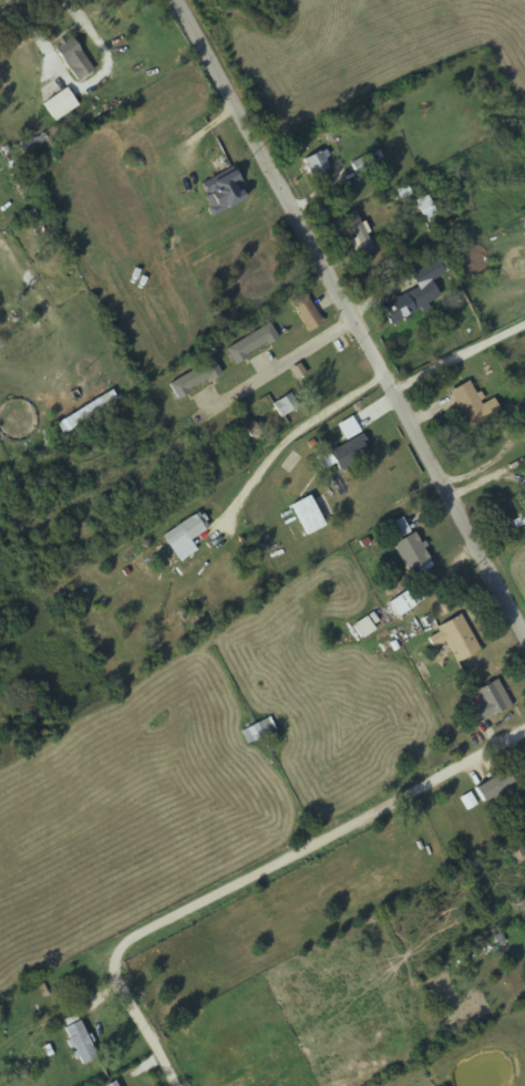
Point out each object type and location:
road: (17, 10)
building: (55, 105)
building: (316, 164)
building: (223, 192)
building: (425, 208)
building: (359, 234)
building: (416, 293)
building: (306, 313)
road: (349, 316)
building: (21, 340)
building: (250, 344)
building: (194, 380)
road: (217, 383)
building: (284, 406)
building: (473, 407)
building: (348, 446)
road: (497, 509)
building: (307, 515)
building: (185, 536)
building: (408, 546)
building: (406, 600)
building: (457, 638)
building: (486, 702)
building: (257, 731)
building: (523, 763)
building: (486, 789)
building: (513, 852)
road: (250, 876)
building: (79, 1042)
building: (112, 1084)

